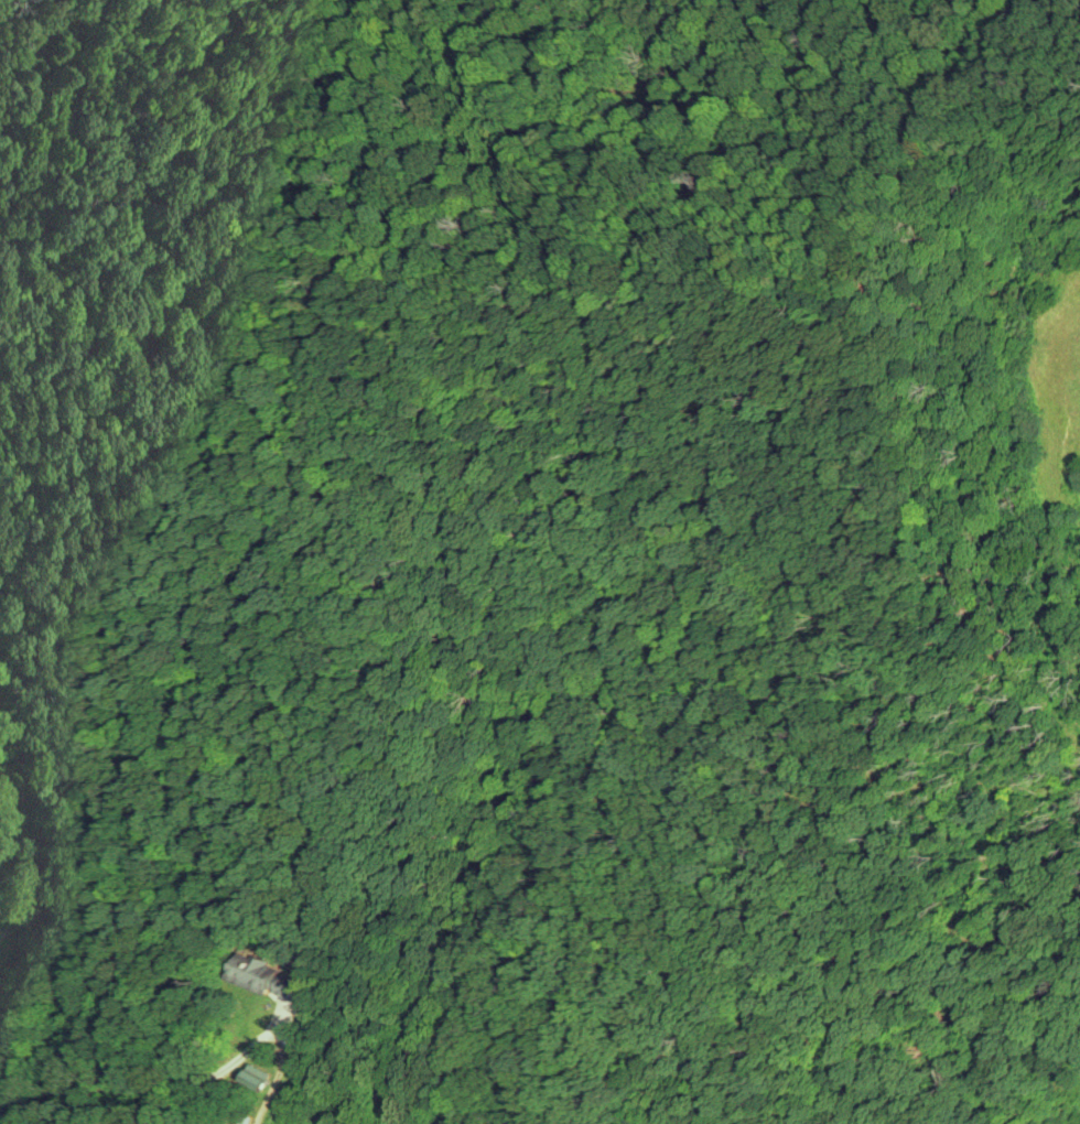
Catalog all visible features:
river: (6, 831)
building: (271, 976)

